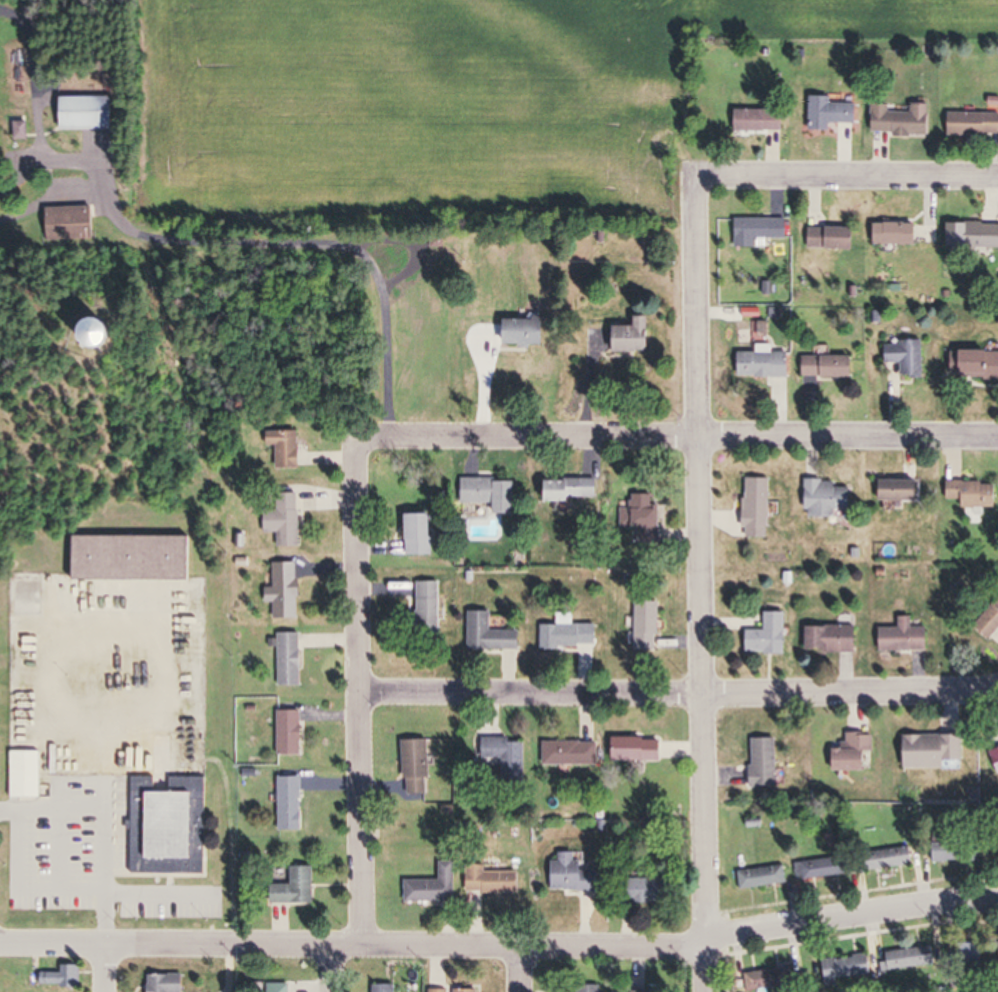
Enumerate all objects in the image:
building: (89, 113)
building: (833, 113)
building: (762, 119)
building: (902, 119)
building: (975, 124)
road: (846, 177)
building: (72, 222)
building: (762, 232)
building: (901, 233)
road: (262, 235)
building: (973, 235)
building: (834, 239)
building: (527, 332)
building: (125, 333)
building: (638, 336)
water tower: (107, 337)
building: (910, 357)
building: (767, 365)
building: (982, 365)
building: (832, 367)
road: (694, 433)
building: (290, 447)
building: (573, 489)
building: (905, 491)
building: (493, 493)
building: (975, 494)
building: (830, 497)
building: (760, 508)
building: (648, 512)
building: (287, 517)
building: (424, 534)
building: (132, 558)
road: (704, 584)
building: (288, 591)
building: (431, 604)
building: (990, 621)
building: (650, 625)
building: (570, 634)
building: (493, 635)
building: (771, 635)
building: (907, 637)
building: (834, 639)
building: (292, 660)
road: (360, 678)
road: (679, 696)
building: (291, 733)
building: (641, 750)
building: (508, 751)
building: (932, 751)
building: (575, 753)
building: (857, 753)
building: (996, 756)
building: (767, 763)
building: (143, 767)
building: (420, 767)
building: (29, 774)
building: (293, 804)
road: (102, 825)
building: (172, 827)
building: (957, 851)
building: (892, 859)
building: (822, 869)
building: (575, 875)
building: (763, 878)
building: (494, 881)
building: (435, 887)
building: (300, 888)
building: (649, 891)
road: (500, 950)
building: (970, 951)
building: (909, 959)
road: (105, 968)
road: (226, 968)
road: (332, 969)
building: (849, 969)
road: (518, 971)
building: (63, 978)
building: (769, 980)
building: (169, 983)
building: (281, 987)
building: (388, 988)
building: (439, 991)
building: (469, 991)
building: (656, 991)

